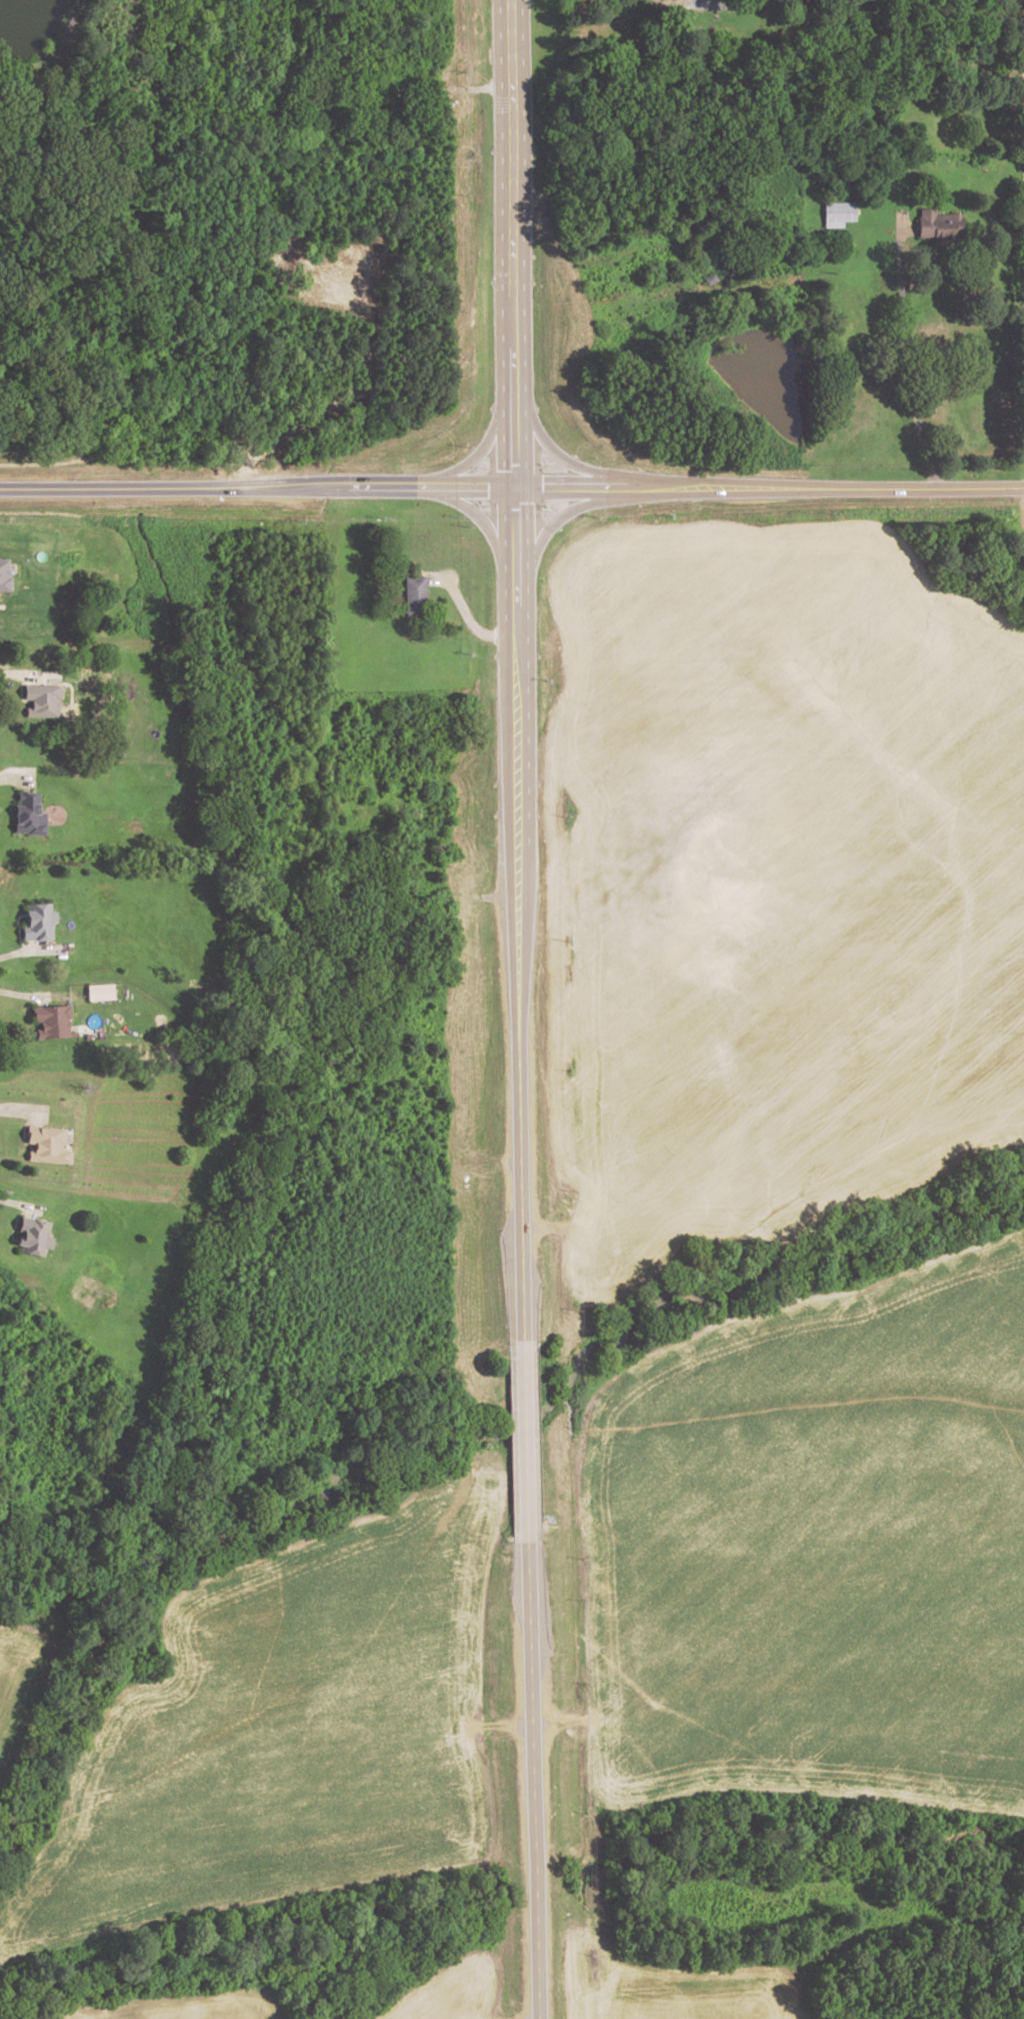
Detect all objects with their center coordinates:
road: (699, 4)
road: (54, 63)
building: (837, 214)
building: (937, 225)
road: (899, 355)
road: (484, 451)
road: (555, 451)
road: (511, 488)
road: (1020, 506)
road: (484, 522)
road: (556, 523)
building: (4, 576)
building: (414, 598)
road: (468, 617)
road: (517, 632)
road: (18, 675)
road: (19, 692)
building: (41, 700)
road: (14, 777)
road: (12, 799)
building: (28, 815)
building: (37, 921)
road: (16, 932)
road: (15, 952)
building: (99, 991)
road: (21, 996)
road: (27, 1013)
building: (50, 1020)
road: (19, 1114)
road: (21, 1134)
building: (46, 1145)
road: (17, 1205)
road: (13, 1222)
building: (32, 1236)
road: (523, 1437)
road: (562, 1720)
road: (499, 1727)
crop: (280, 1734)
road: (531, 1814)
crop: (755, 1900)

